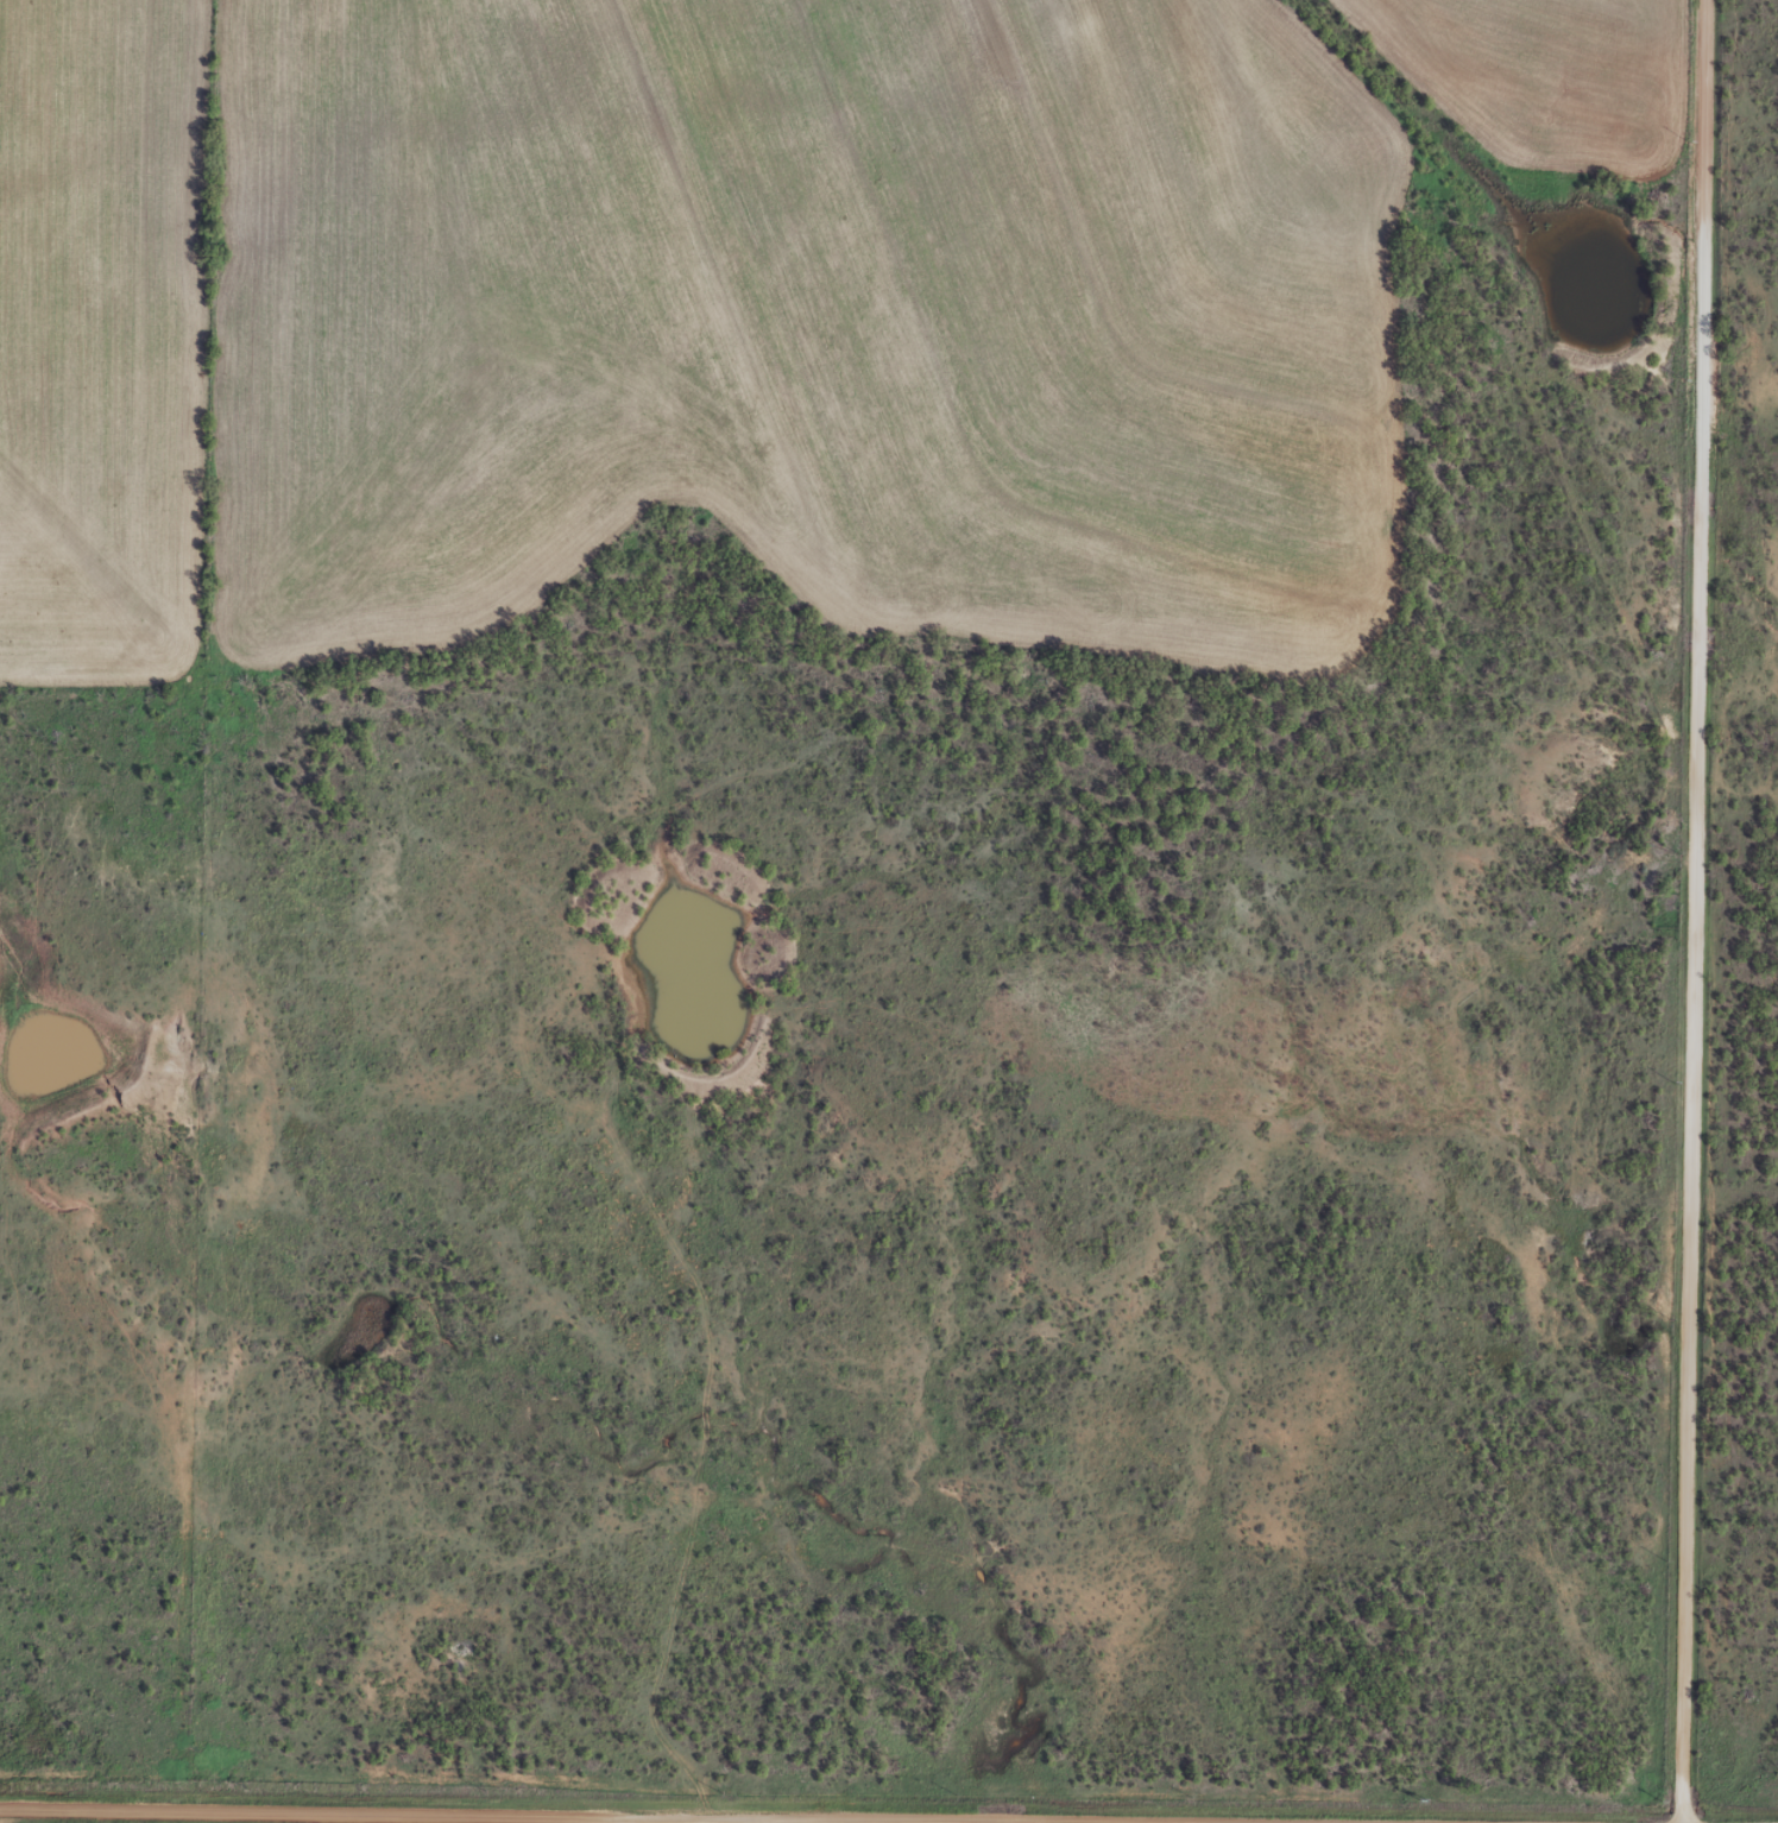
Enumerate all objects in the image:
road: (1700, 911)
road: (6, 1809)
road: (532, 1818)

